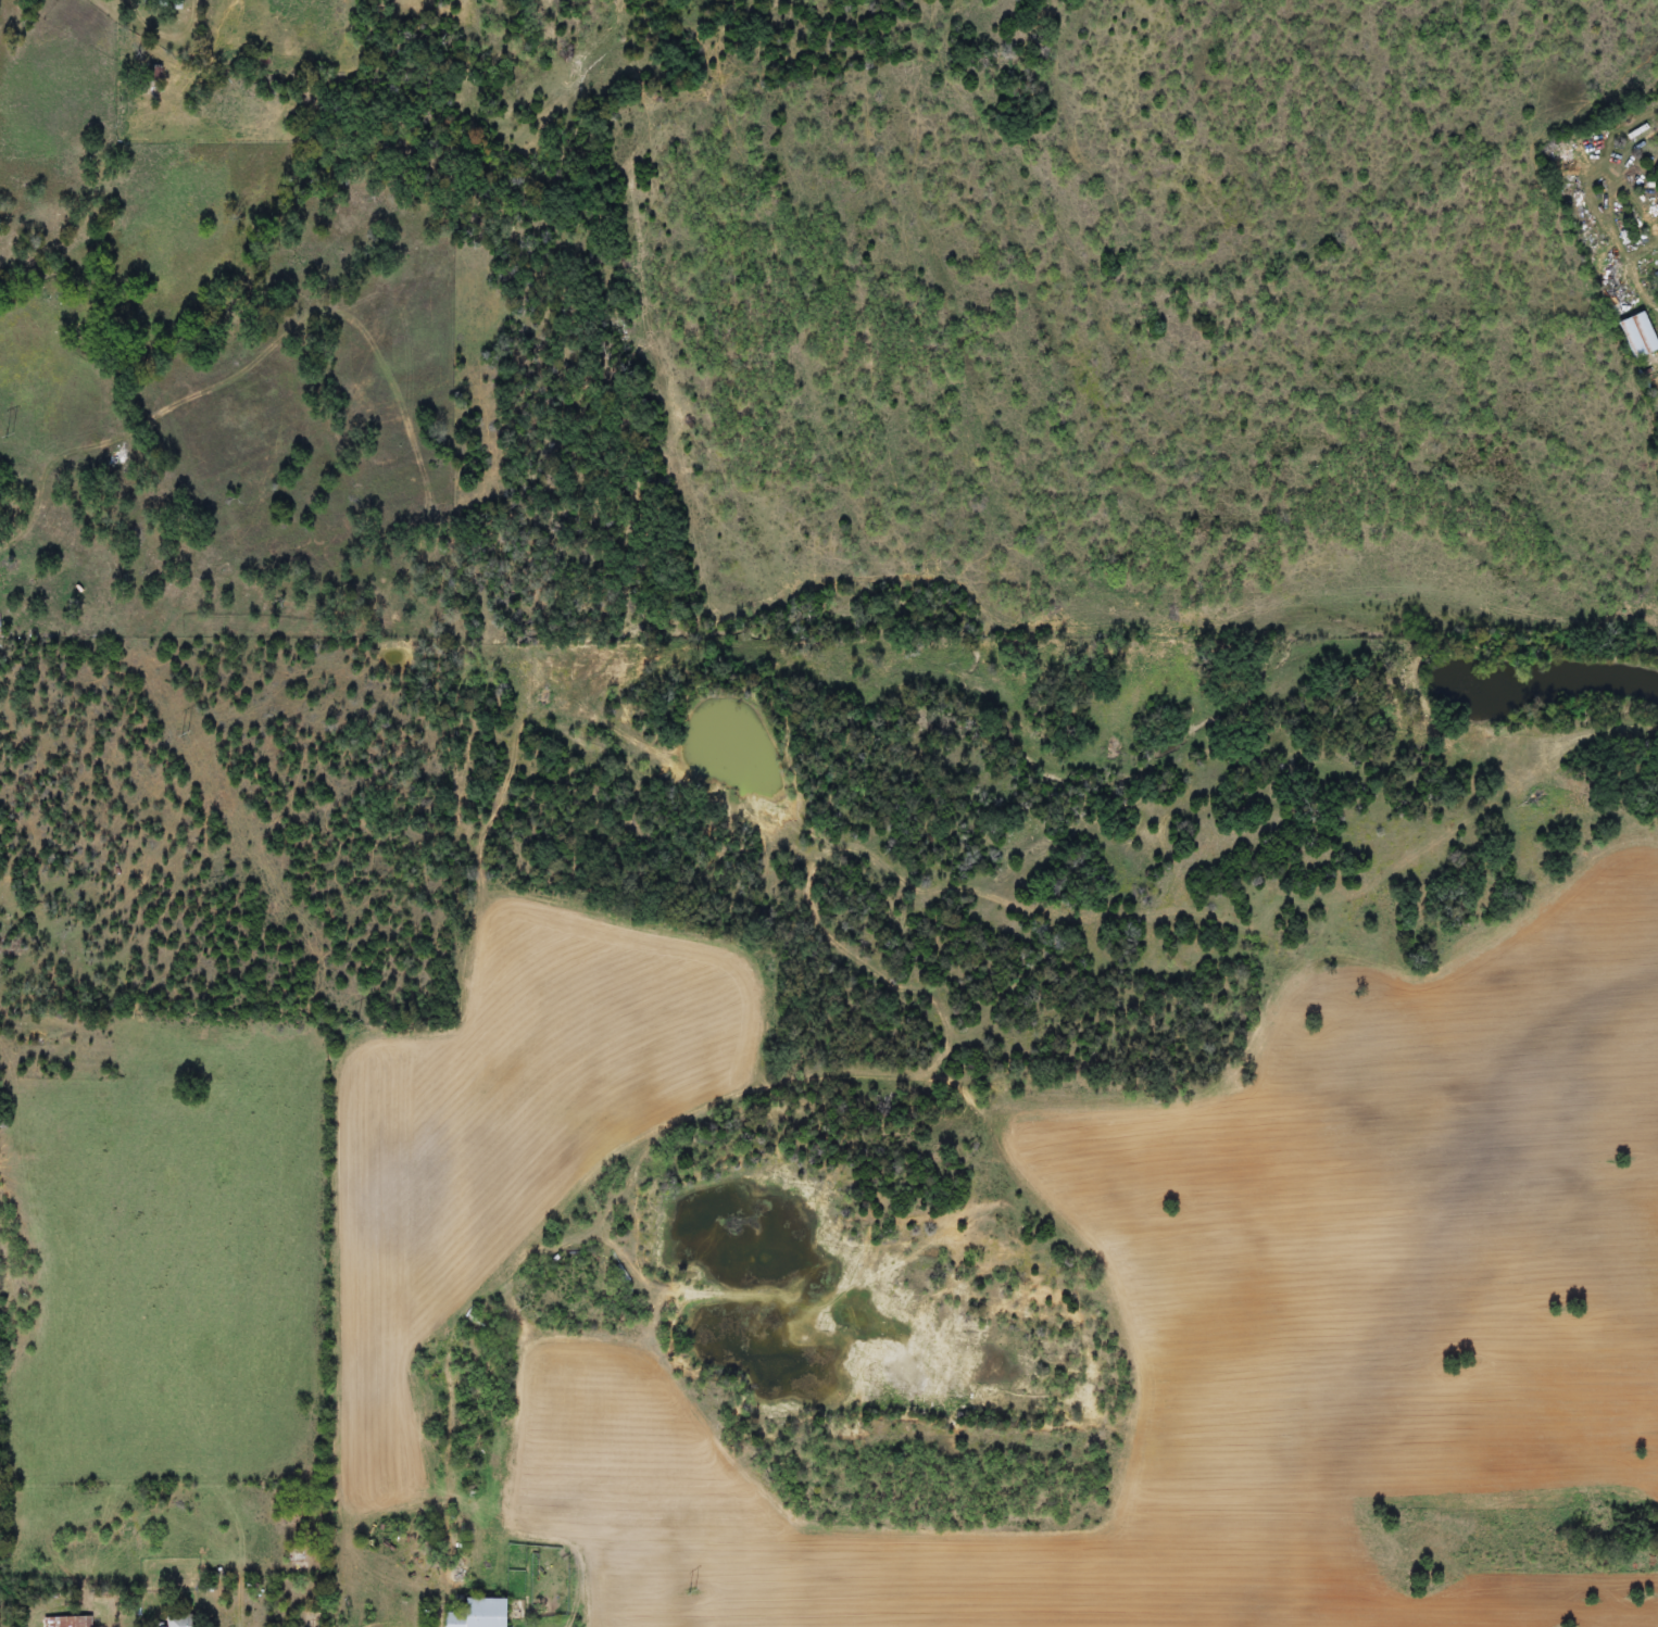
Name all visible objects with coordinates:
building: (152, 74)
building: (1611, 291)
building: (1636, 335)
building: (477, 1614)
building: (68, 1622)
building: (176, 1622)

